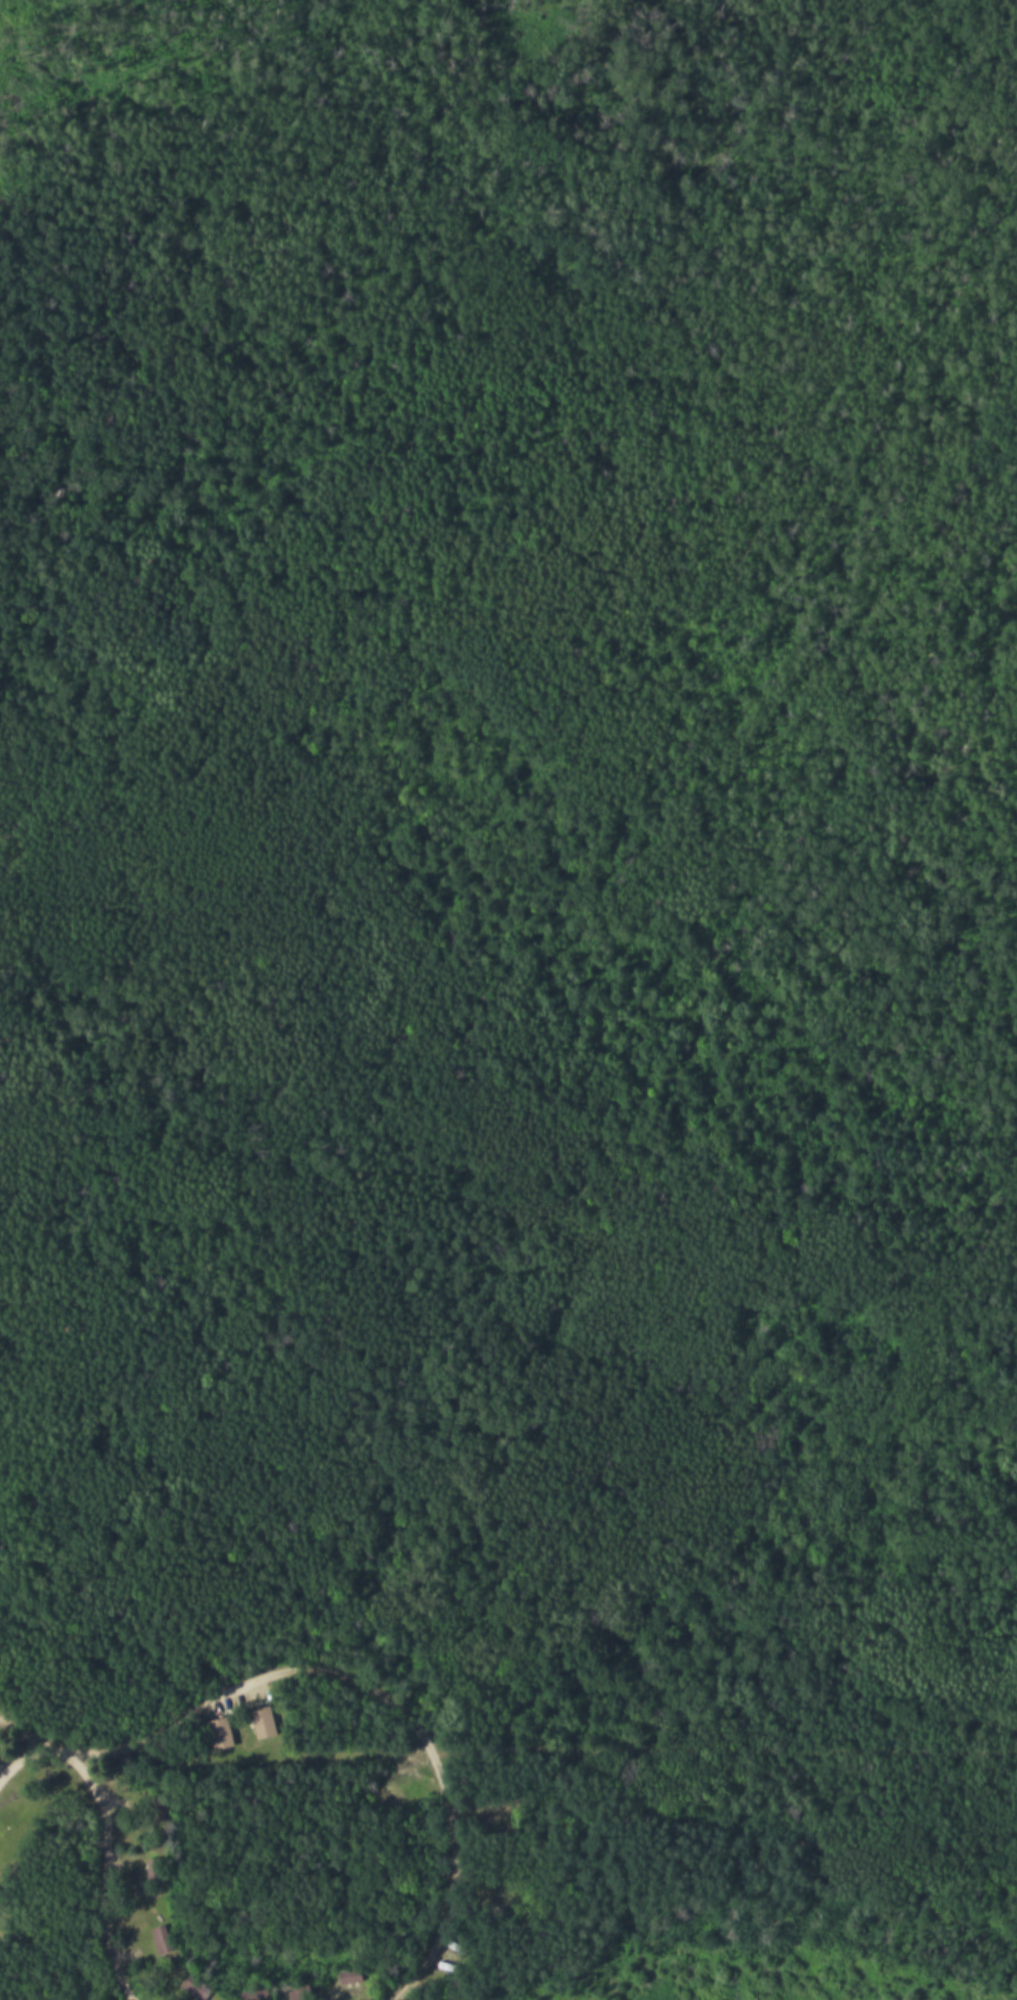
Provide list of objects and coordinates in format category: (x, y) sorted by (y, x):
park: (508, 1000)
road: (388, 1691)
road: (18, 1721)
road: (53, 1738)
road: (19, 1754)
road: (110, 1866)

